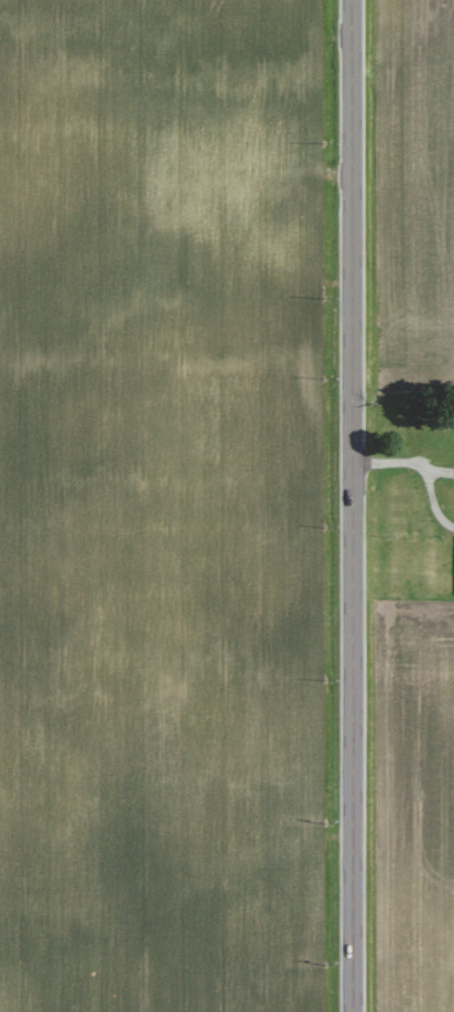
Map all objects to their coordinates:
road: (349, 506)

